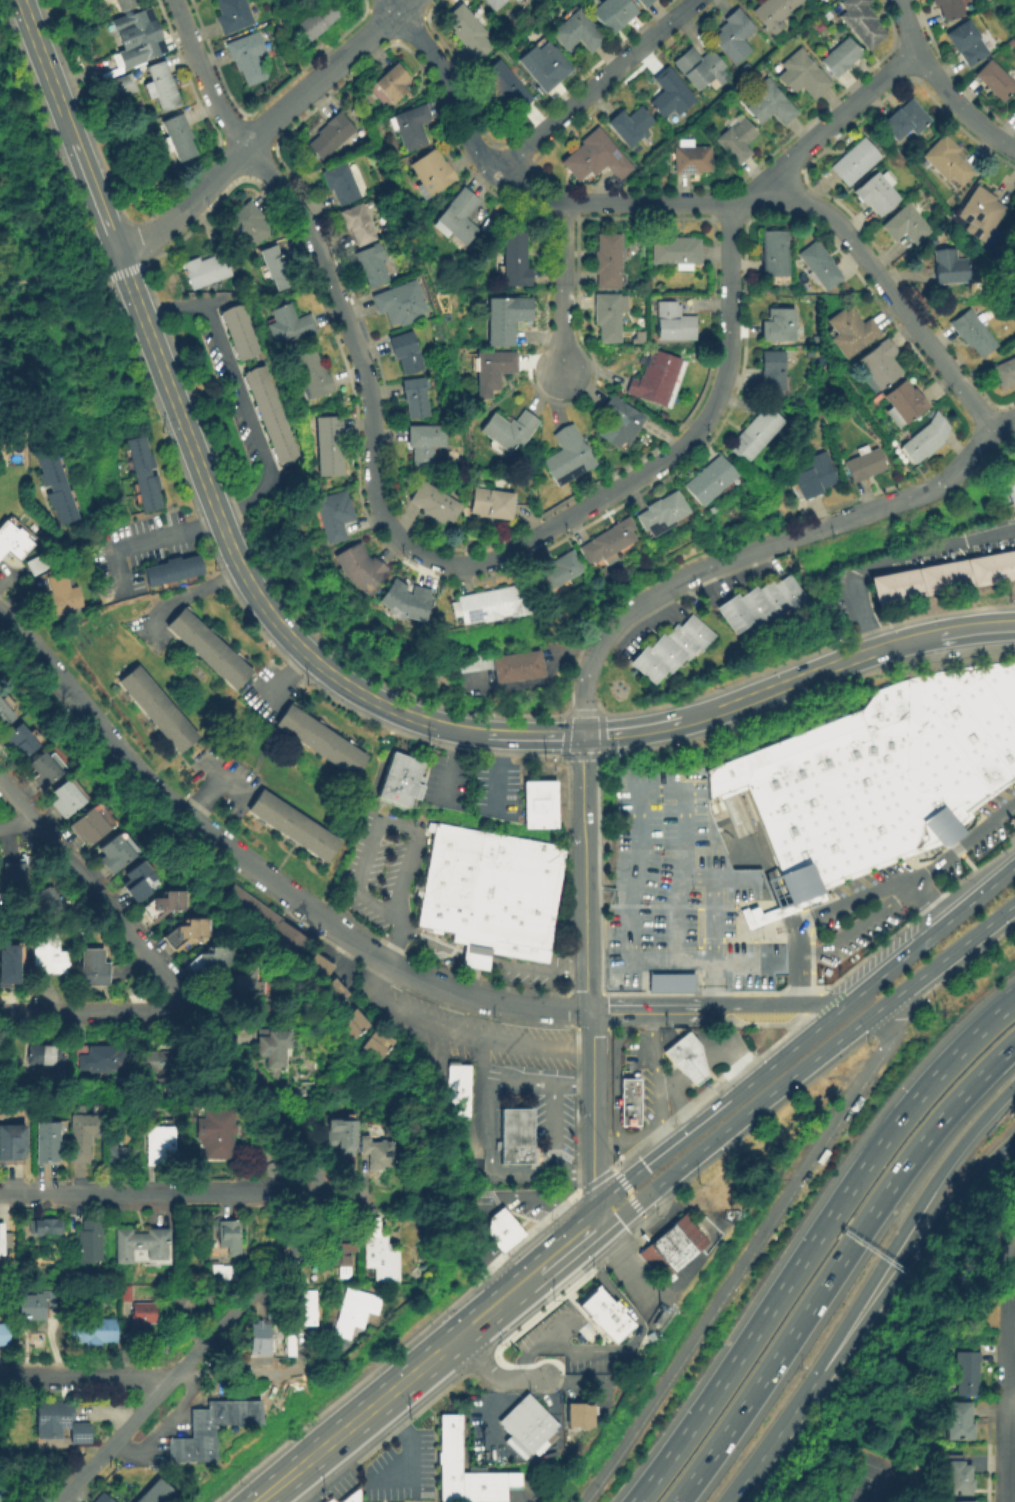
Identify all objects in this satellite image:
building: (1013, 1)
building: (644, 3)
building: (125, 4)
building: (492, 4)
building: (943, 8)
building: (1014, 11)
building: (614, 14)
building: (774, 14)
building: (231, 16)
building: (317, 19)
building: (861, 22)
building: (468, 32)
building: (576, 33)
building: (138, 38)
building: (733, 38)
building: (960, 41)
building: (246, 58)
building: (841, 58)
building: (543, 67)
building: (700, 70)
building: (743, 70)
building: (802, 76)
road: (205, 77)
building: (989, 80)
road: (444, 81)
road: (595, 85)
building: (121, 87)
building: (389, 87)
road: (944, 87)
road: (18, 88)
building: (161, 88)
building: (505, 89)
building: (670, 95)
building: (767, 104)
building: (1011, 105)
building: (898, 119)
road: (837, 125)
road: (66, 126)
building: (410, 128)
building: (629, 128)
road: (263, 131)
building: (329, 137)
building: (178, 139)
building: (737, 140)
building: (595, 159)
building: (691, 159)
building: (848, 161)
building: (941, 161)
building: (430, 175)
building: (339, 185)
building: (872, 193)
road: (619, 203)
building: (973, 214)
building: (457, 219)
building: (902, 223)
building: (247, 226)
building: (356, 226)
road: (30, 228)
building: (1011, 241)
building: (676, 252)
building: (771, 252)
building: (514, 260)
building: (607, 261)
road: (119, 263)
road: (869, 264)
building: (813, 265)
building: (370, 267)
building: (944, 267)
building: (274, 271)
building: (204, 272)
road: (114, 276)
road: (13, 283)
road: (564, 287)
building: (398, 304)
building: (230, 314)
building: (609, 316)
building: (506, 319)
building: (673, 322)
building: (779, 326)
building: (288, 328)
building: (236, 330)
building: (845, 331)
building: (967, 331)
building: (638, 338)
building: (242, 346)
building: (1014, 347)
building: (810, 352)
building: (404, 353)
building: (873, 363)
building: (492, 368)
building: (774, 371)
building: (1001, 372)
building: (254, 374)
building: (313, 376)
building: (657, 379)
building: (260, 389)
building: (414, 398)
building: (895, 402)
building: (266, 404)
road: (975, 406)
building: (272, 419)
building: (620, 422)
road: (1005, 427)
building: (509, 430)
building: (278, 434)
building: (757, 435)
building: (919, 439)
building: (328, 441)
building: (423, 444)
building: (284, 450)
building: (569, 456)
building: (858, 463)
road: (266, 467)
road: (955, 472)
building: (143, 475)
building: (811, 478)
building: (713, 480)
building: (56, 487)
building: (1006, 489)
building: (491, 503)
building: (434, 504)
building: (665, 515)
building: (334, 518)
road: (849, 519)
road: (226, 541)
building: (13, 542)
building: (611, 542)
road: (891, 556)
building: (36, 562)
road: (472, 564)
building: (362, 570)
building: (174, 571)
building: (560, 574)
building: (937, 577)
road: (688, 578)
building: (59, 597)
road: (187, 599)
building: (407, 601)
building: (764, 606)
building: (485, 607)
road: (976, 624)
road: (905, 638)
building: (209, 651)
building: (674, 651)
building: (538, 664)
building: (471, 665)
building: (526, 666)
building: (513, 669)
building: (500, 671)
road: (798, 676)
road: (281, 683)
building: (300, 685)
road: (583, 686)
road: (538, 688)
building: (158, 711)
road: (706, 712)
building: (5, 716)
road: (634, 727)
road: (460, 728)
road: (534, 732)
traffic signals: (582, 733)
building: (18, 743)
building: (321, 743)
road: (448, 765)
road: (136, 772)
road: (496, 772)
building: (42, 774)
building: (880, 774)
building: (397, 779)
road: (222, 780)
road: (640, 793)
road: (201, 798)
building: (66, 801)
building: (537, 803)
road: (376, 823)
building: (294, 827)
road: (17, 828)
building: (89, 828)
building: (116, 856)
road: (943, 857)
road: (767, 867)
road: (585, 870)
building: (13, 879)
building: (136, 880)
road: (719, 880)
parking lot: (907, 883)
road: (990, 887)
building: (492, 895)
building: (683, 895)
parking lot: (683, 895)
road: (612, 899)
building: (48, 905)
building: (165, 905)
road: (700, 907)
building: (265, 923)
building: (188, 936)
road: (429, 942)
road: (713, 942)
road: (798, 950)
building: (48, 958)
building: (213, 960)
road: (730, 961)
road: (900, 961)
road: (477, 962)
building: (6, 964)
building: (322, 965)
building: (93, 969)
road: (522, 970)
building: (315, 974)
road: (571, 974)
road: (167, 980)
road: (433, 983)
road: (798, 984)
building: (243, 986)
building: (338, 990)
building: (328, 997)
road: (777, 1003)
road: (652, 1009)
road: (107, 1012)
road: (14, 1013)
building: (359, 1022)
road: (437, 1027)
building: (350, 1029)
road: (599, 1037)
building: (383, 1040)
building: (273, 1046)
building: (376, 1049)
road: (733, 1055)
building: (43, 1056)
building: (689, 1057)
building: (103, 1058)
road: (476, 1059)
building: (160, 1061)
road: (696, 1067)
road: (806, 1067)
road: (616, 1072)
road: (658, 1079)
road: (533, 1082)
road: (664, 1088)
building: (458, 1092)
building: (297, 1094)
road: (673, 1099)
building: (632, 1101)
building: (123, 1108)
road: (710, 1113)
road: (591, 1115)
road: (553, 1127)
building: (216, 1134)
building: (344, 1135)
building: (83, 1136)
building: (514, 1137)
road: (630, 1141)
building: (13, 1142)
building: (47, 1142)
building: (162, 1146)
building: (380, 1153)
building: (120, 1156)
road: (495, 1168)
road: (182, 1193)
road: (629, 1194)
road: (484, 1198)
road: (1013, 1220)
building: (47, 1227)
road: (901, 1227)
building: (499, 1229)
building: (229, 1237)
road: (575, 1239)
road: (812, 1240)
building: (5, 1241)
building: (89, 1242)
building: (142, 1244)
building: (667, 1248)
building: (385, 1255)
building: (342, 1256)
road: (747, 1256)
road: (908, 1260)
road: (835, 1264)
road: (545, 1265)
road: (519, 1268)
building: (226, 1273)
road: (639, 1282)
building: (125, 1296)
building: (35, 1305)
building: (184, 1305)
building: (309, 1308)
road: (1007, 1309)
building: (358, 1311)
building: (143, 1315)
building: (604, 1315)
building: (658, 1315)
park: (946, 1323)
building: (98, 1330)
building: (5, 1335)
building: (262, 1338)
road: (907, 1338)
building: (293, 1345)
road: (631, 1345)
road: (196, 1351)
road: (327, 1356)
road: (417, 1371)
building: (968, 1372)
road: (241, 1373)
road: (494, 1375)
road: (85, 1378)
road: (1011, 1400)
building: (216, 1411)
building: (239, 1411)
building: (250, 1411)
building: (262, 1411)
building: (576, 1411)
building: (227, 1412)
building: (523, 1419)
building: (959, 1420)
building: (61, 1423)
building: (207, 1432)
road: (407, 1447)
road: (769, 1447)
building: (189, 1450)
road: (1006, 1451)
building: (466, 1469)
parking lot: (399, 1472)
park: (868, 1477)
building: (958, 1478)
road: (277, 1485)
building: (5, 1486)
parking lot: (335, 1486)
building: (163, 1493)
building: (348, 1495)
building: (103, 1498)
building: (327, 1499)
road: (519, 1501)
building: (966, 1501)

